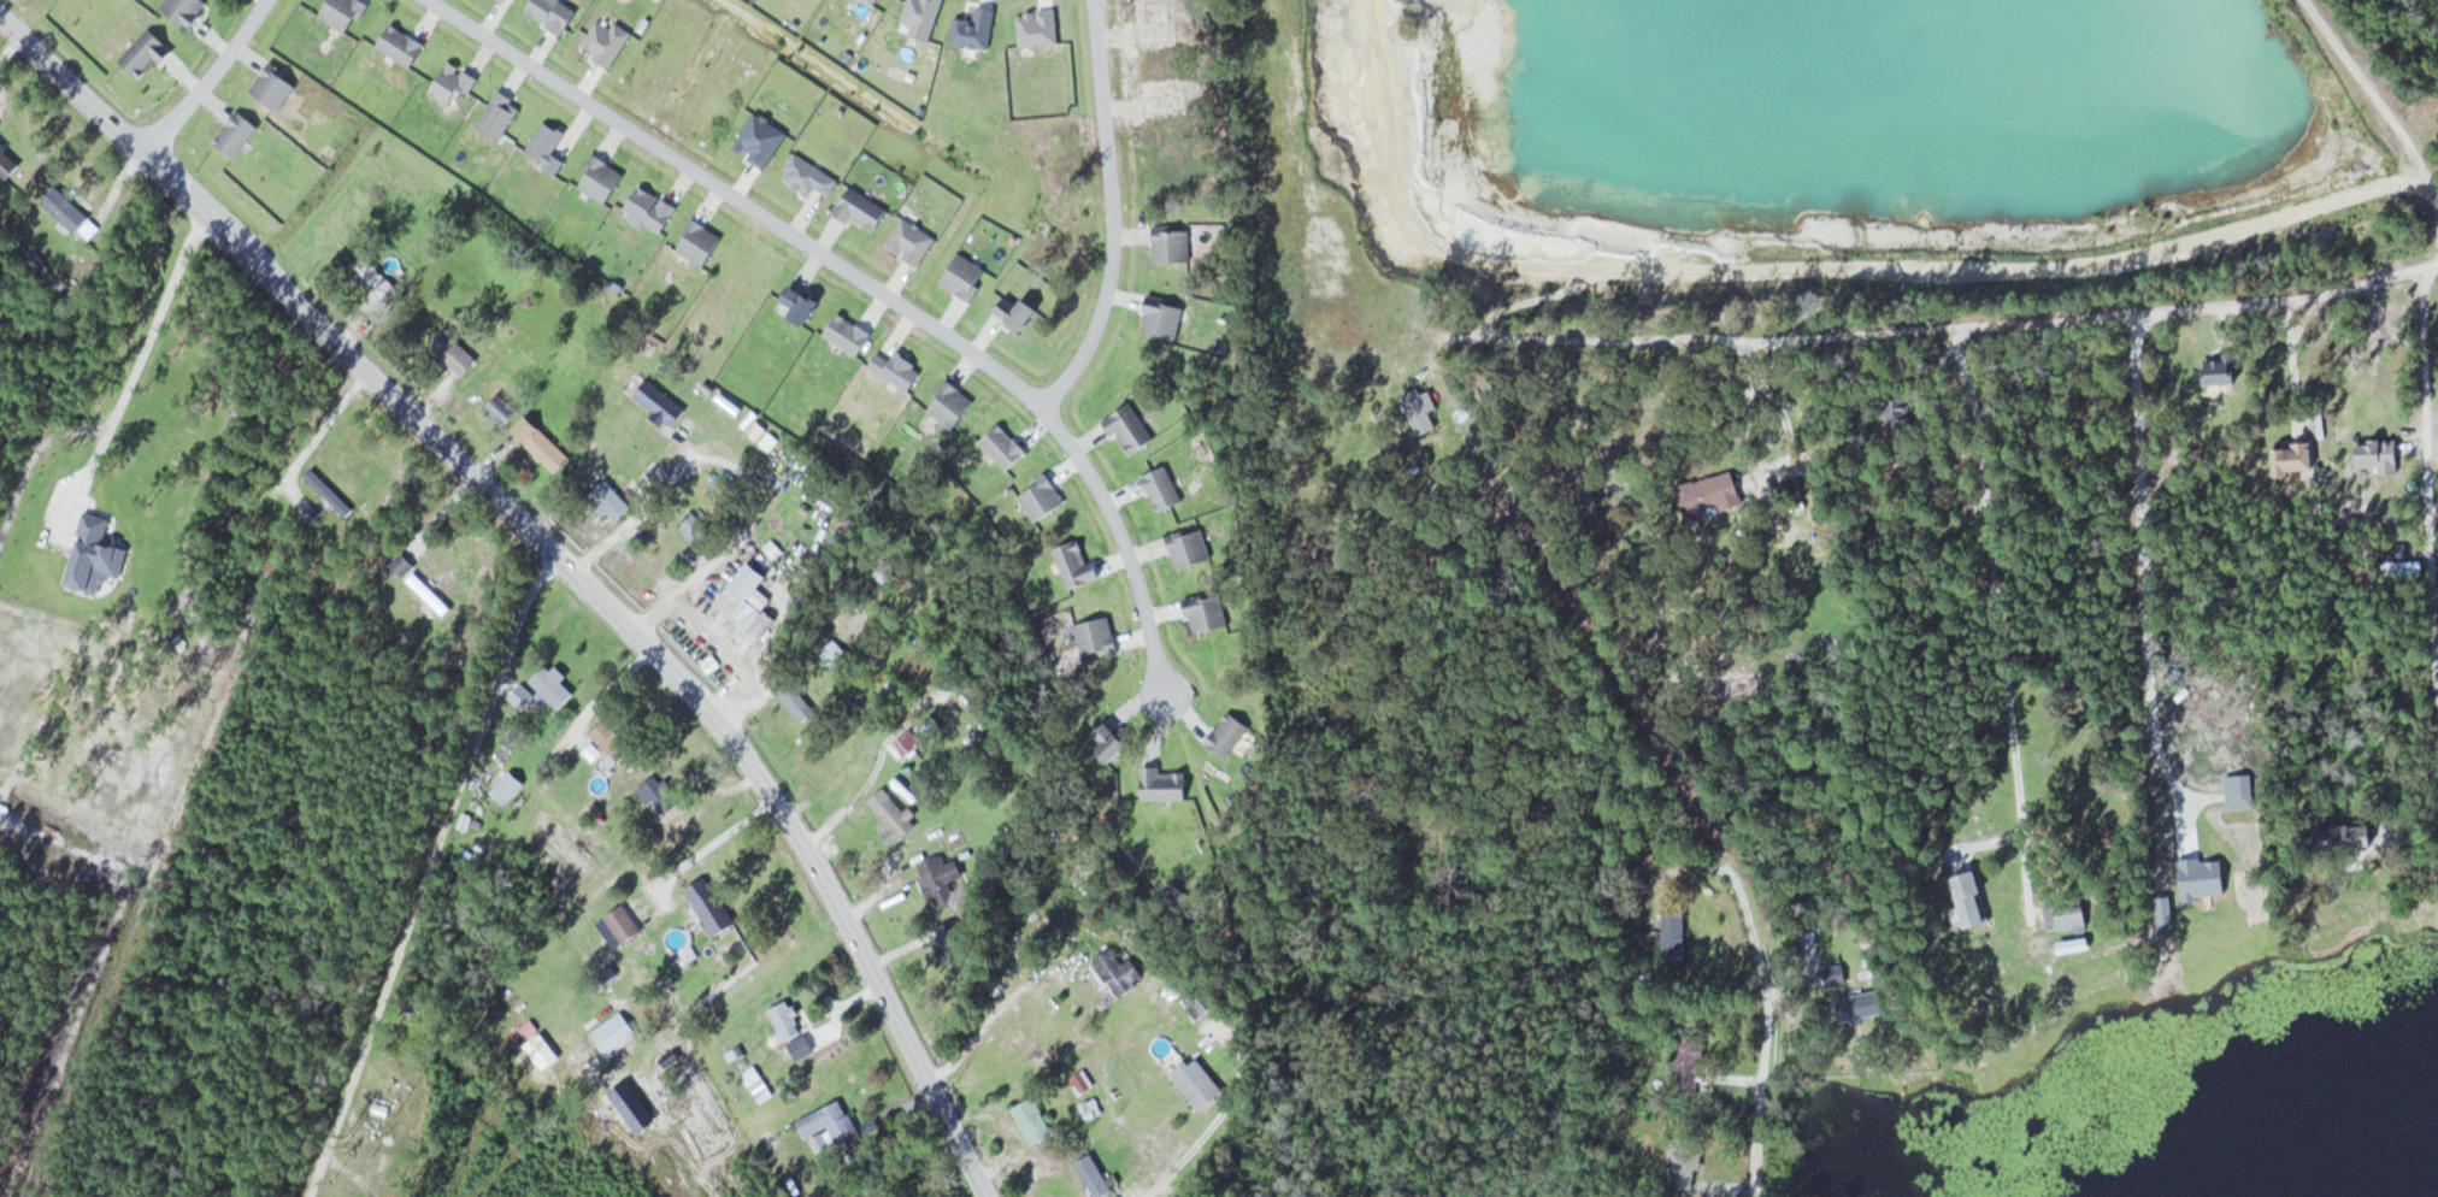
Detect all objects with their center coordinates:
road: (210, 76)
road: (2379, 94)
building: (70, 213)
building: (1471, 219)
building: (372, 277)
road: (872, 284)
road: (1103, 306)
road: (1934, 329)
building: (448, 347)
building: (2220, 370)
building: (500, 407)
building: (1900, 420)
building: (541, 443)
building: (2379, 454)
building: (2296, 459)
road: (2428, 459)
building: (329, 493)
building: (1713, 494)
building: (609, 501)
building: (697, 530)
road: (558, 554)
building: (402, 565)
building: (428, 594)
building: (746, 601)
road: (2001, 618)
building: (835, 655)
building: (896, 685)
building: (550, 689)
building: (793, 696)
building: (611, 741)
road: (1668, 745)
building: (507, 786)
building: (659, 795)
building: (893, 813)
building: (2348, 837)
road: (425, 872)
building: (942, 880)
building: (1972, 900)
building: (711, 906)
building: (2067, 913)
building: (623, 924)
building: (1674, 937)
building: (952, 942)
building: (1199, 1002)
building: (1861, 1006)
building: (788, 1020)
building: (616, 1033)
building: (1688, 1065)
building: (1082, 1083)
building: (1199, 1085)
building: (1091, 1109)
building: (1032, 1121)
building: (831, 1124)
road: (1206, 1131)
building: (1685, 1160)

